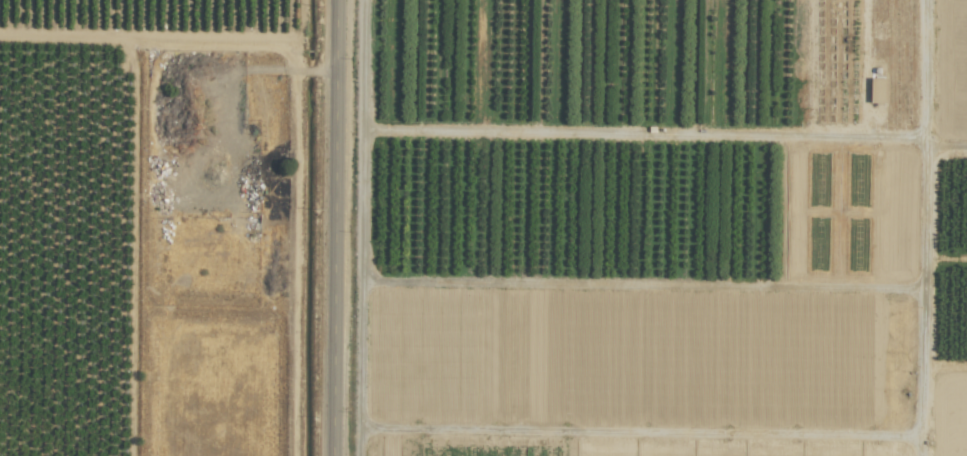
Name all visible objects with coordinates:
road: (336, 228)

